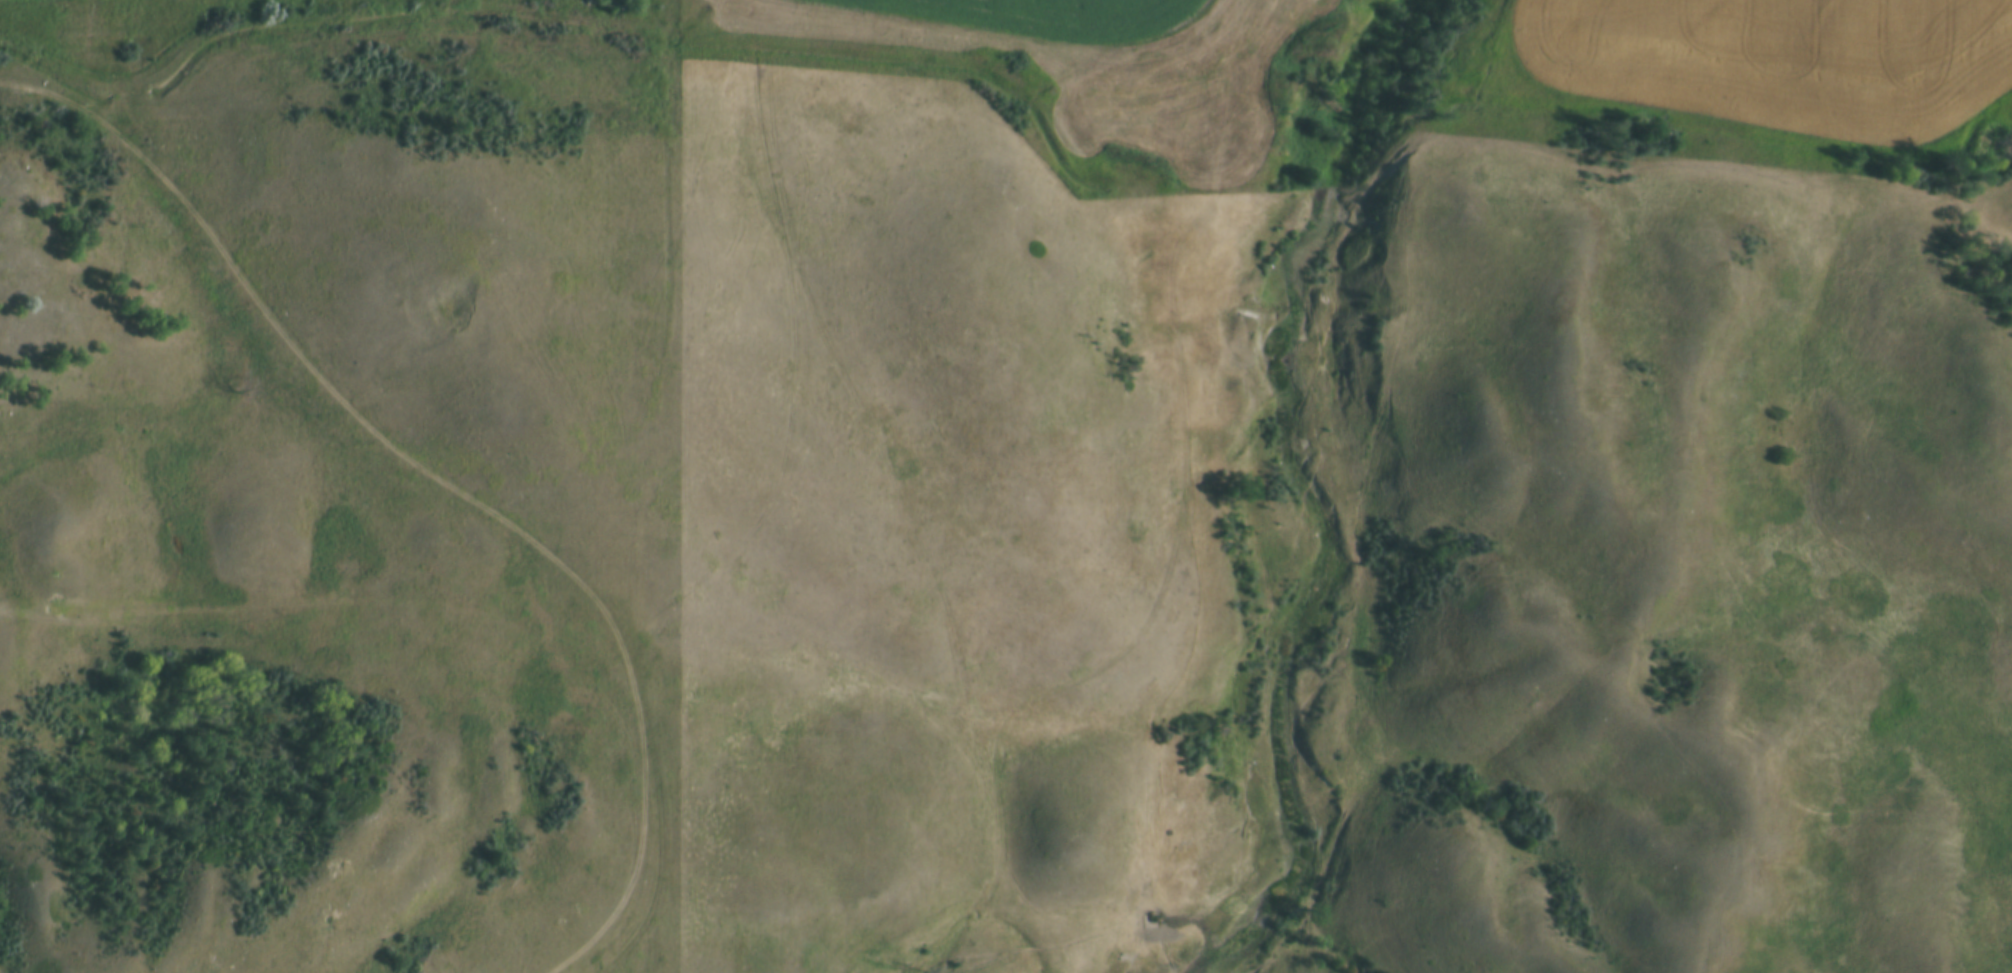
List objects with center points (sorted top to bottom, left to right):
road: (720, 45)

